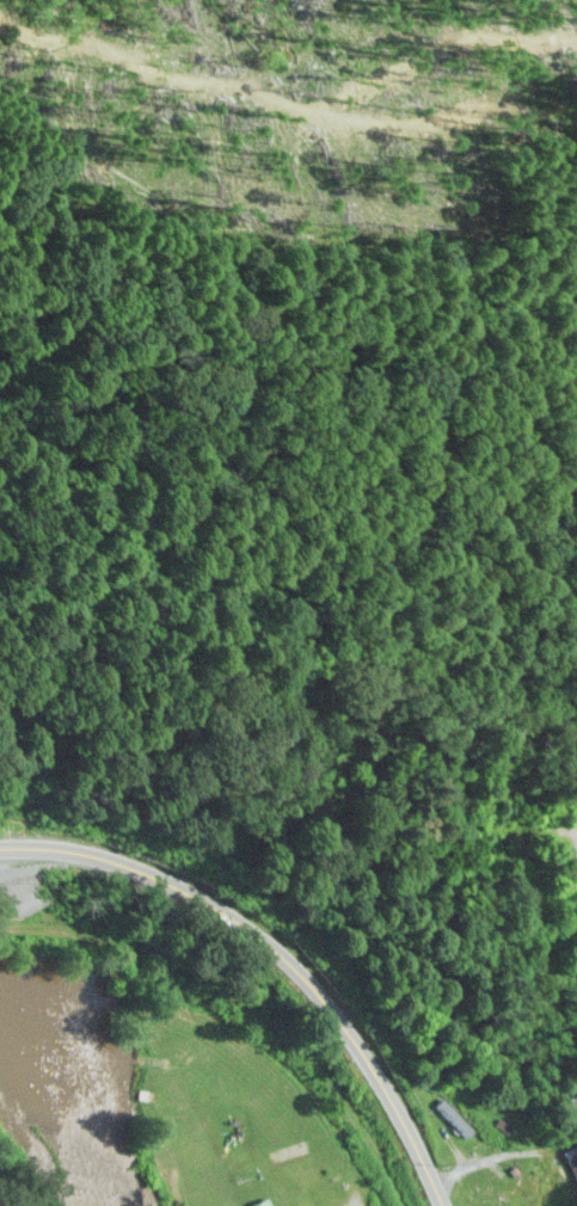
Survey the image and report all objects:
road: (148, 870)
road: (243, 1008)
road: (367, 1058)
river: (65, 1106)
building: (570, 1159)
road: (490, 1164)
road: (558, 1176)
building: (478, 1190)
road: (438, 1194)
building: (259, 1201)
road: (363, 1202)

